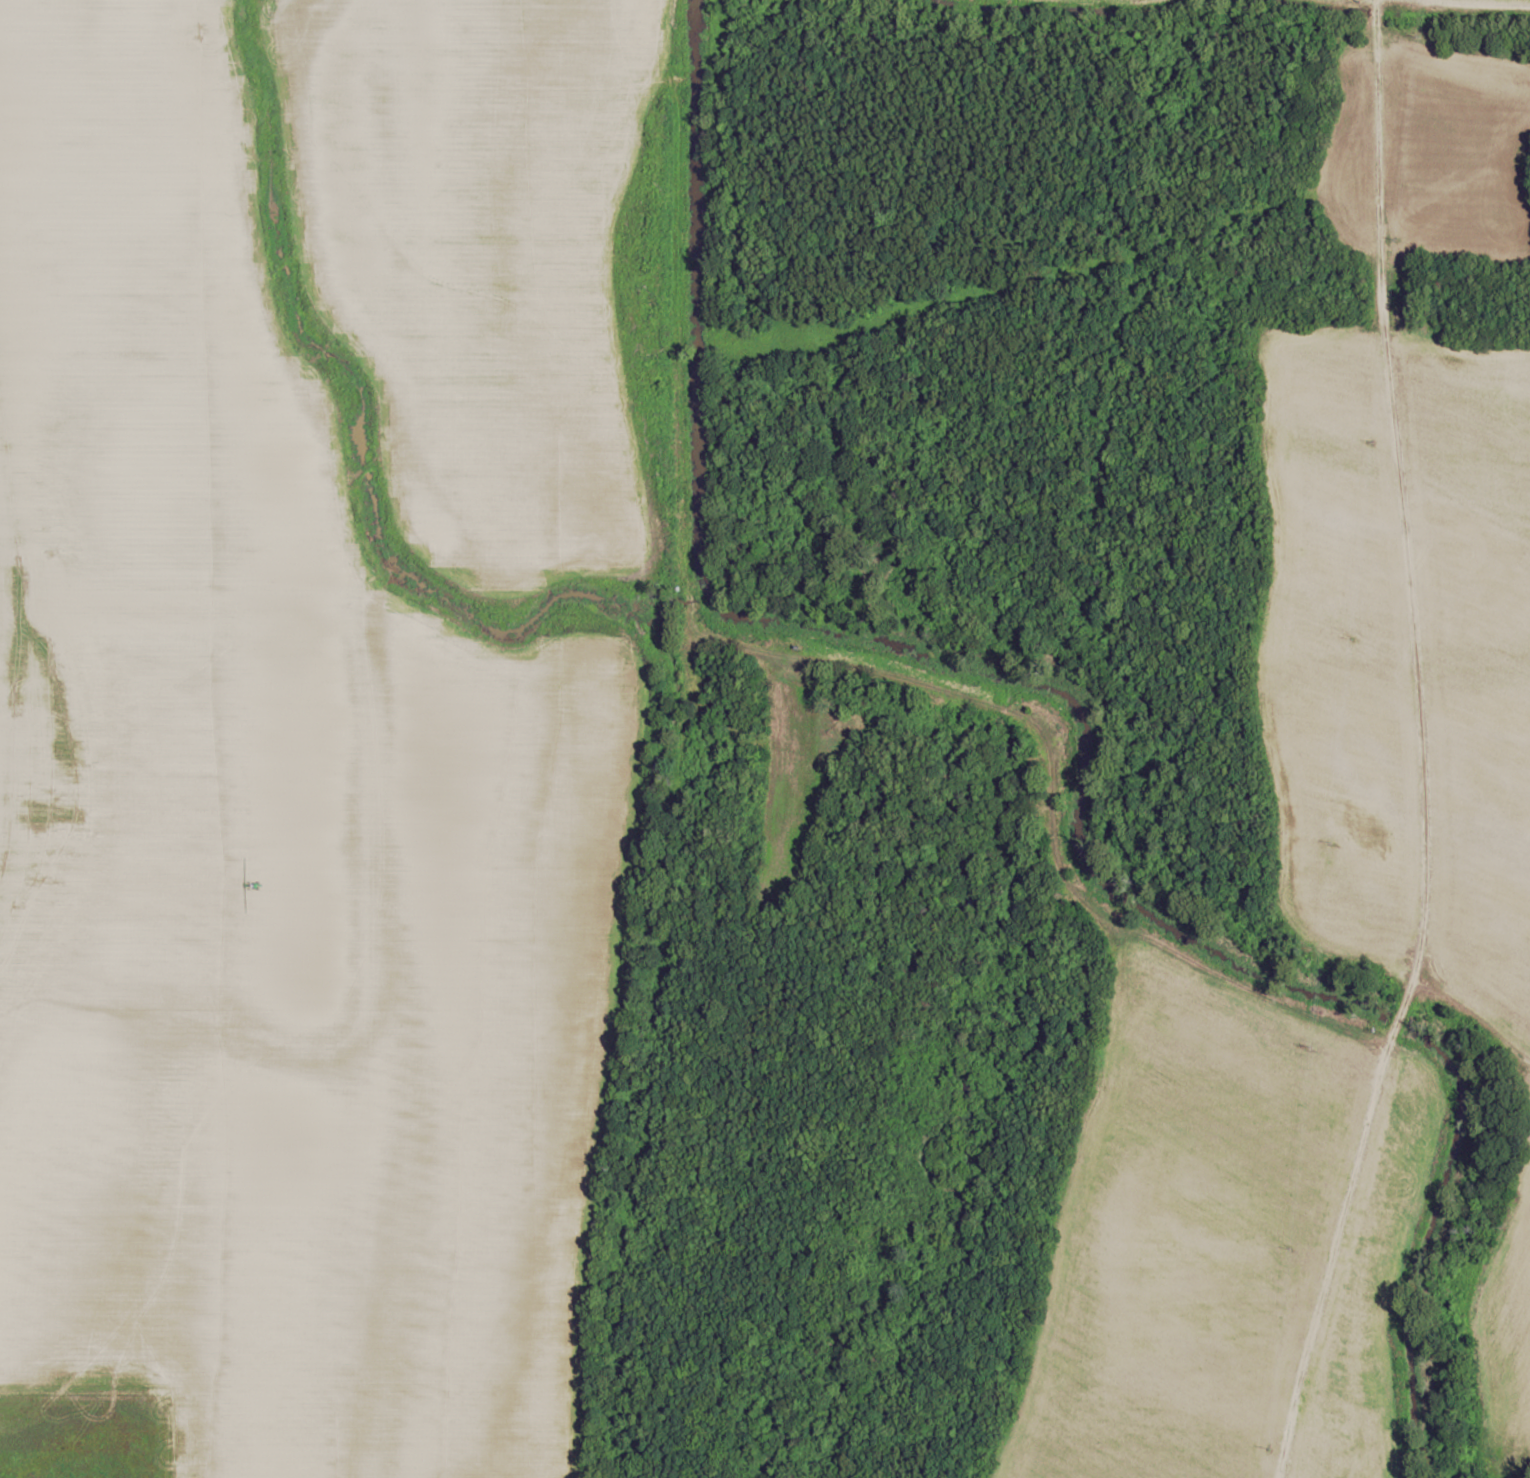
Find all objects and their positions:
road: (1421, 746)

